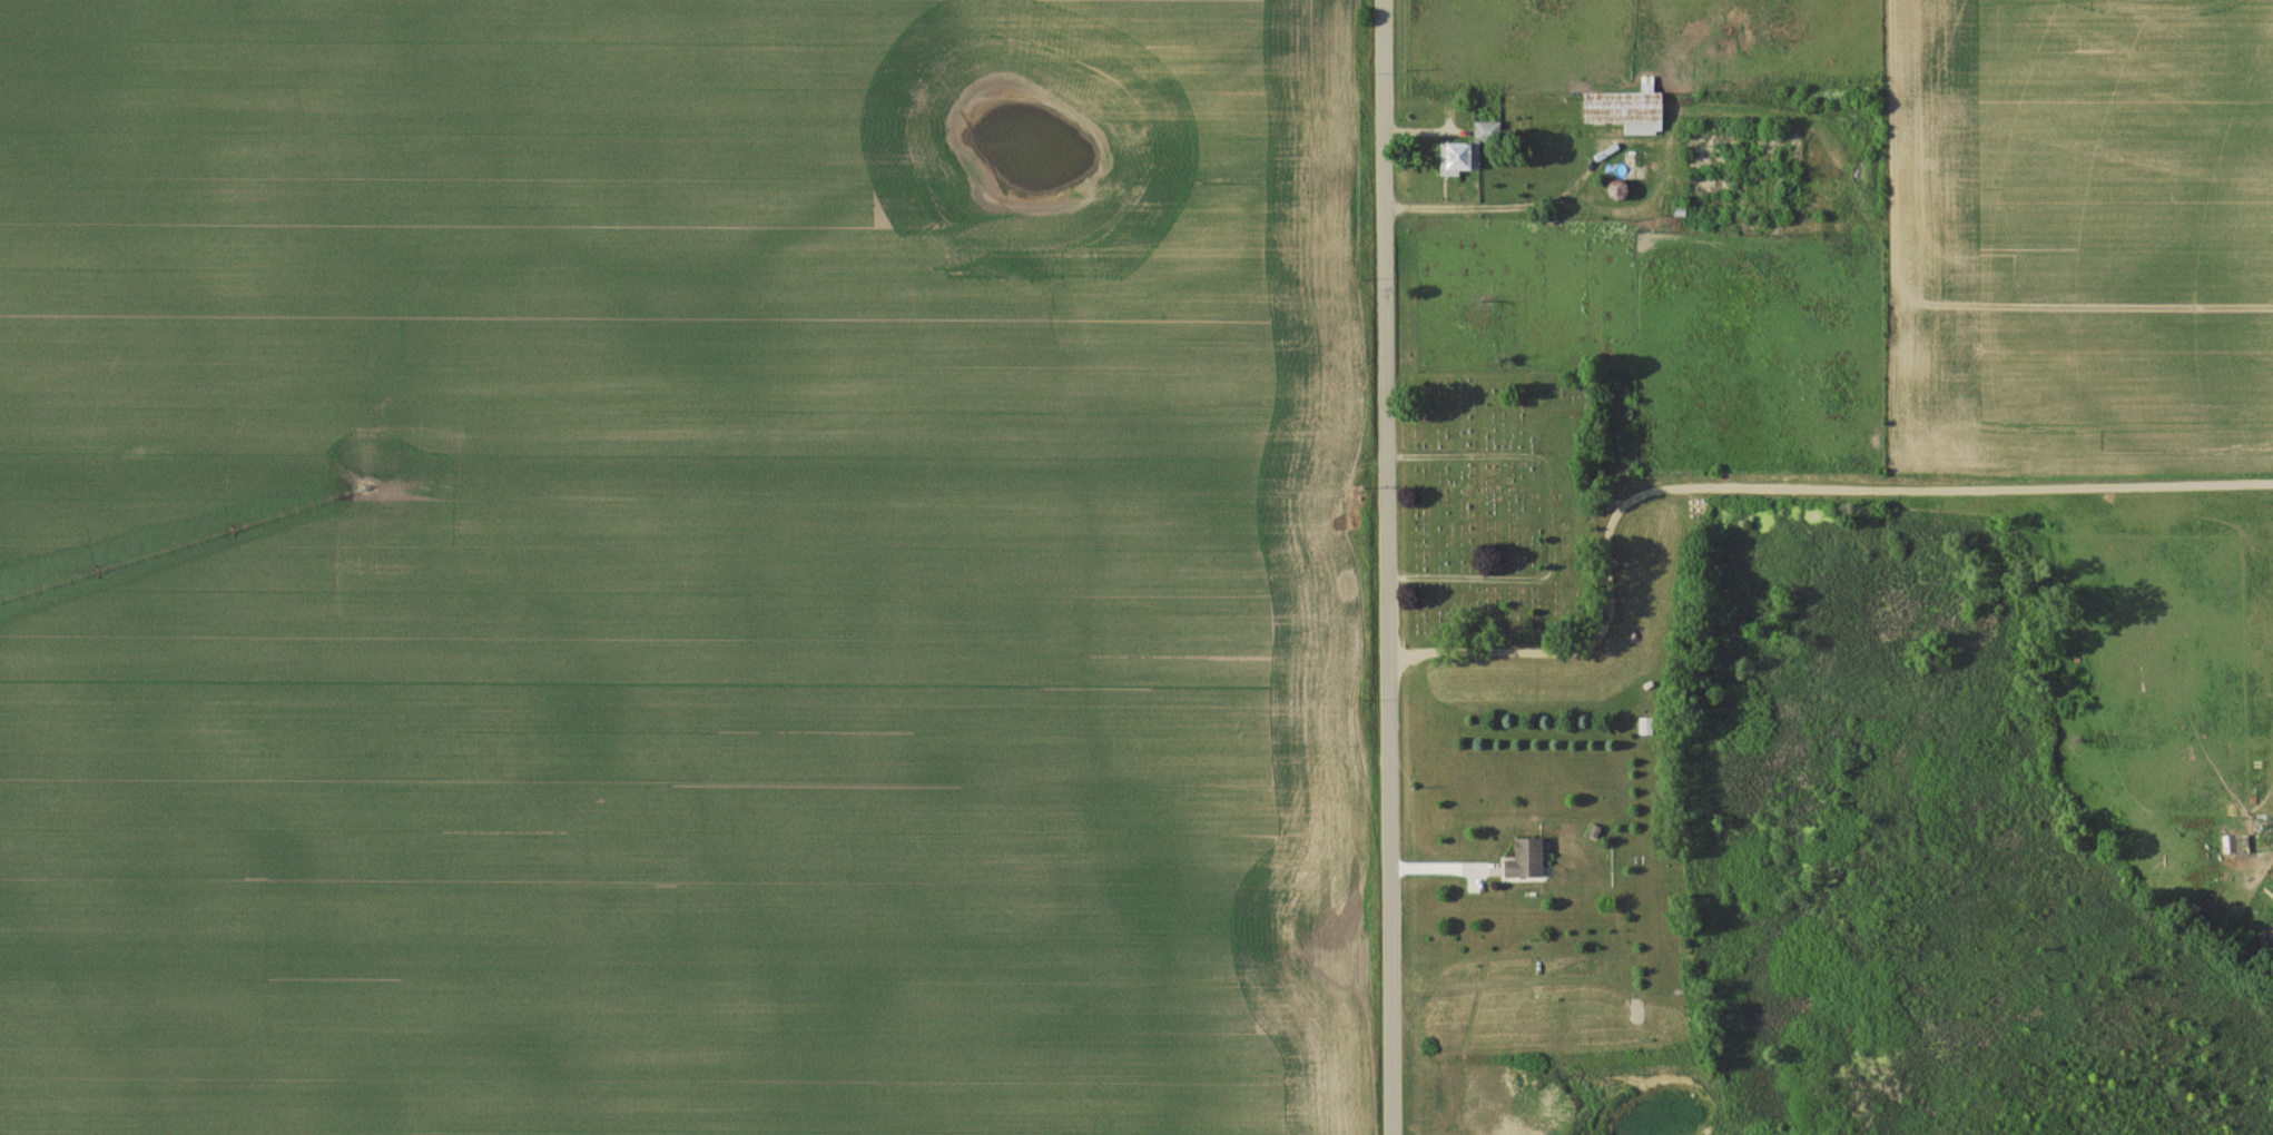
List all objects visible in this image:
building: (1626, 111)
building: (1468, 151)
building: (1617, 191)
road: (1507, 203)
road: (1768, 487)
park: (1497, 504)
road: (1386, 567)
building: (1646, 728)
building: (1526, 859)

